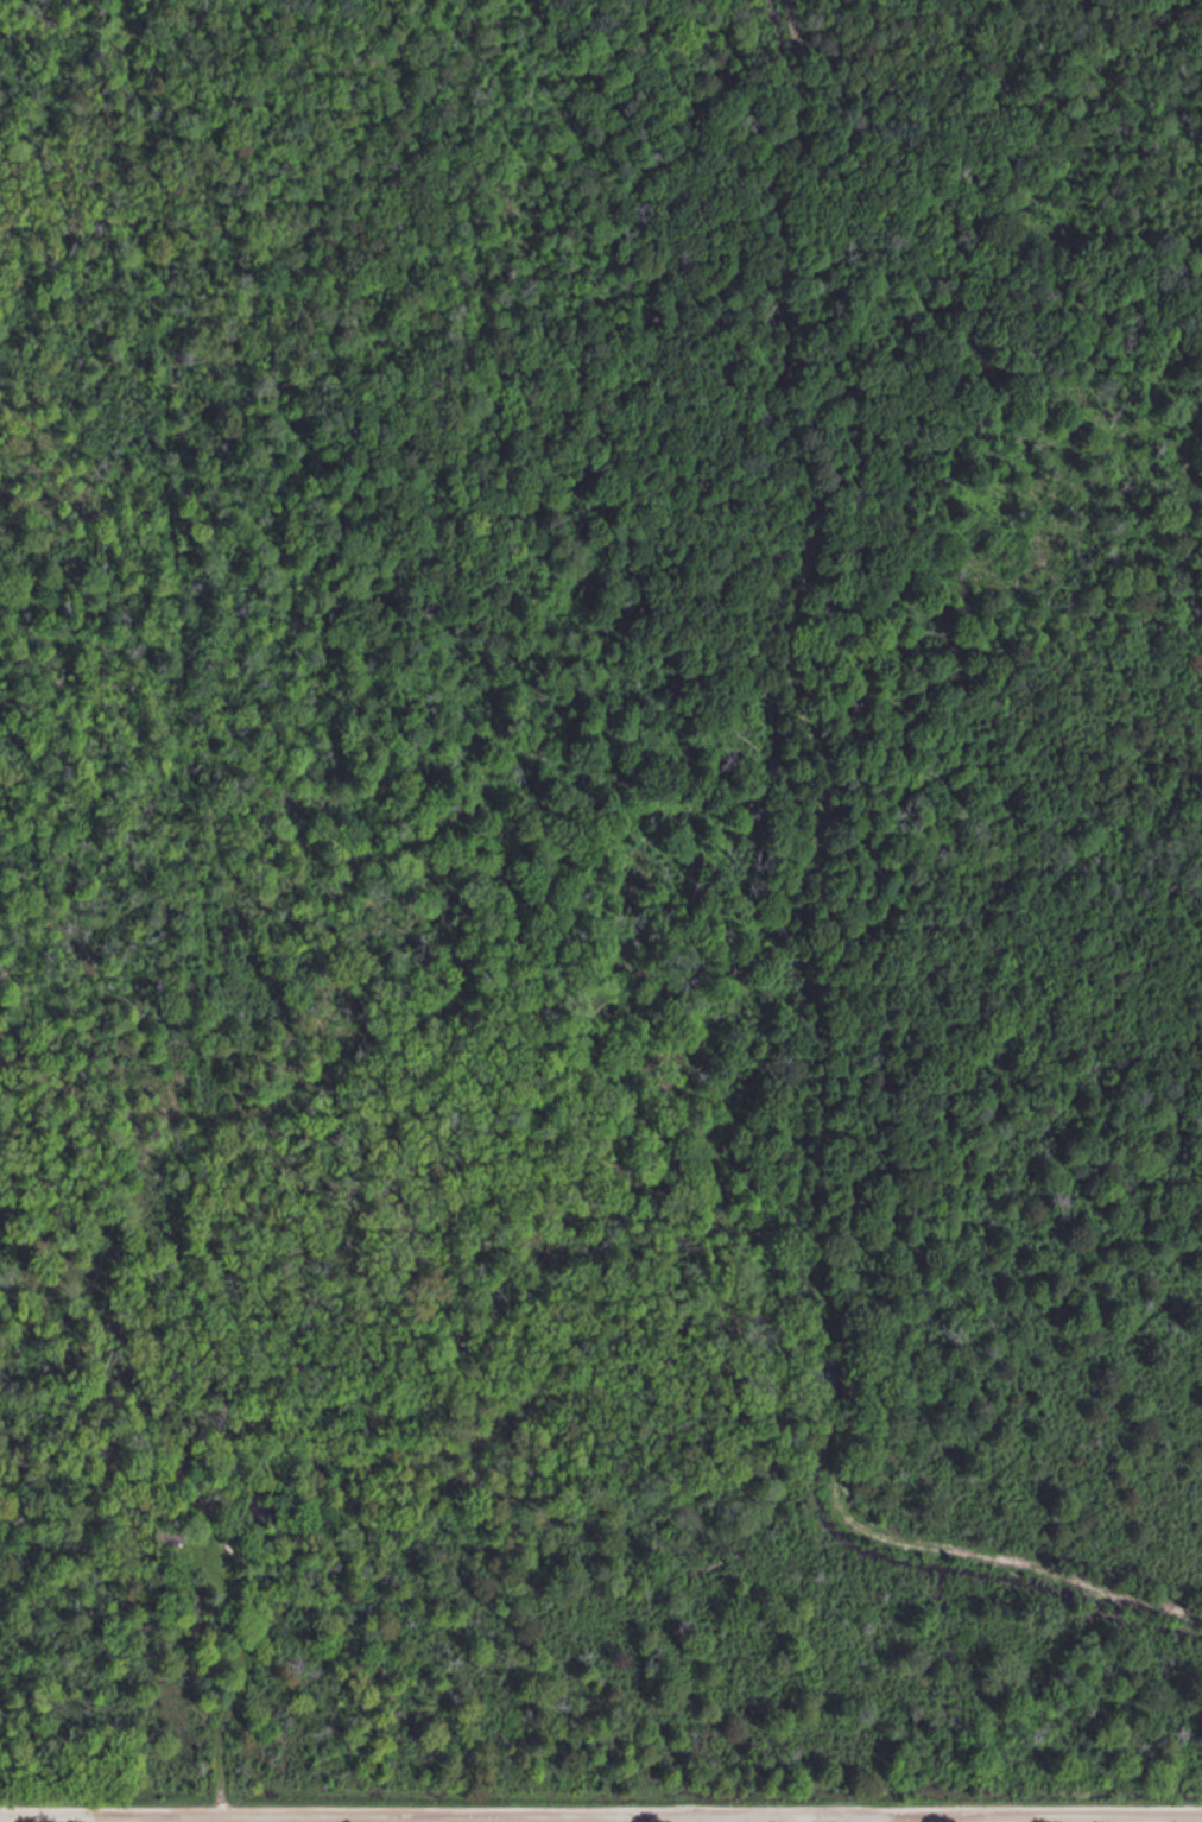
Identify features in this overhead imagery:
road: (601, 1812)

